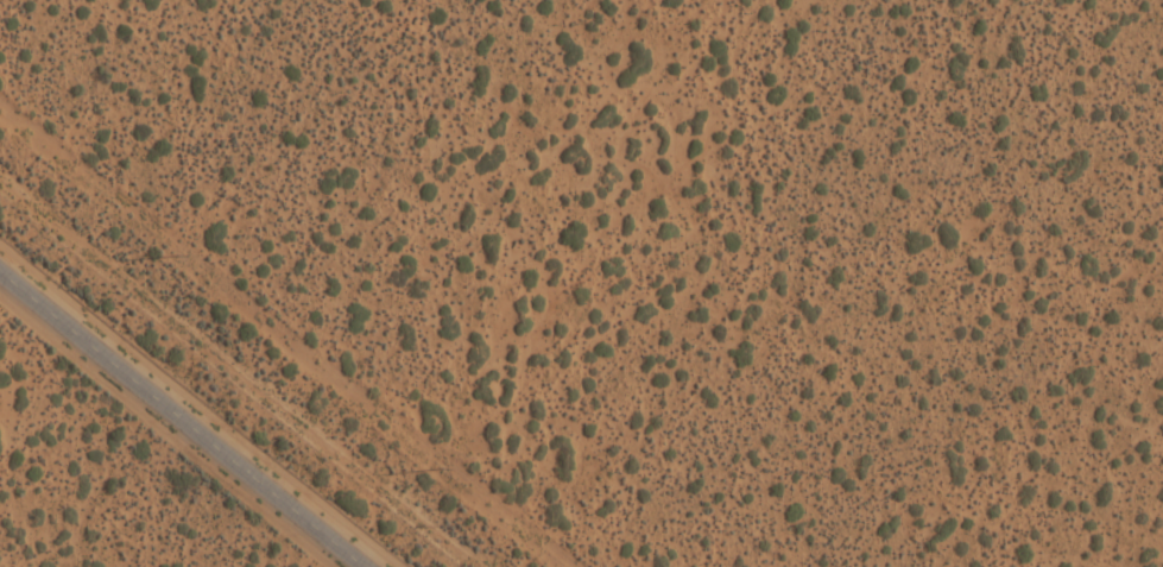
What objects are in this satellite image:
building: (716, 17)
road: (185, 415)

